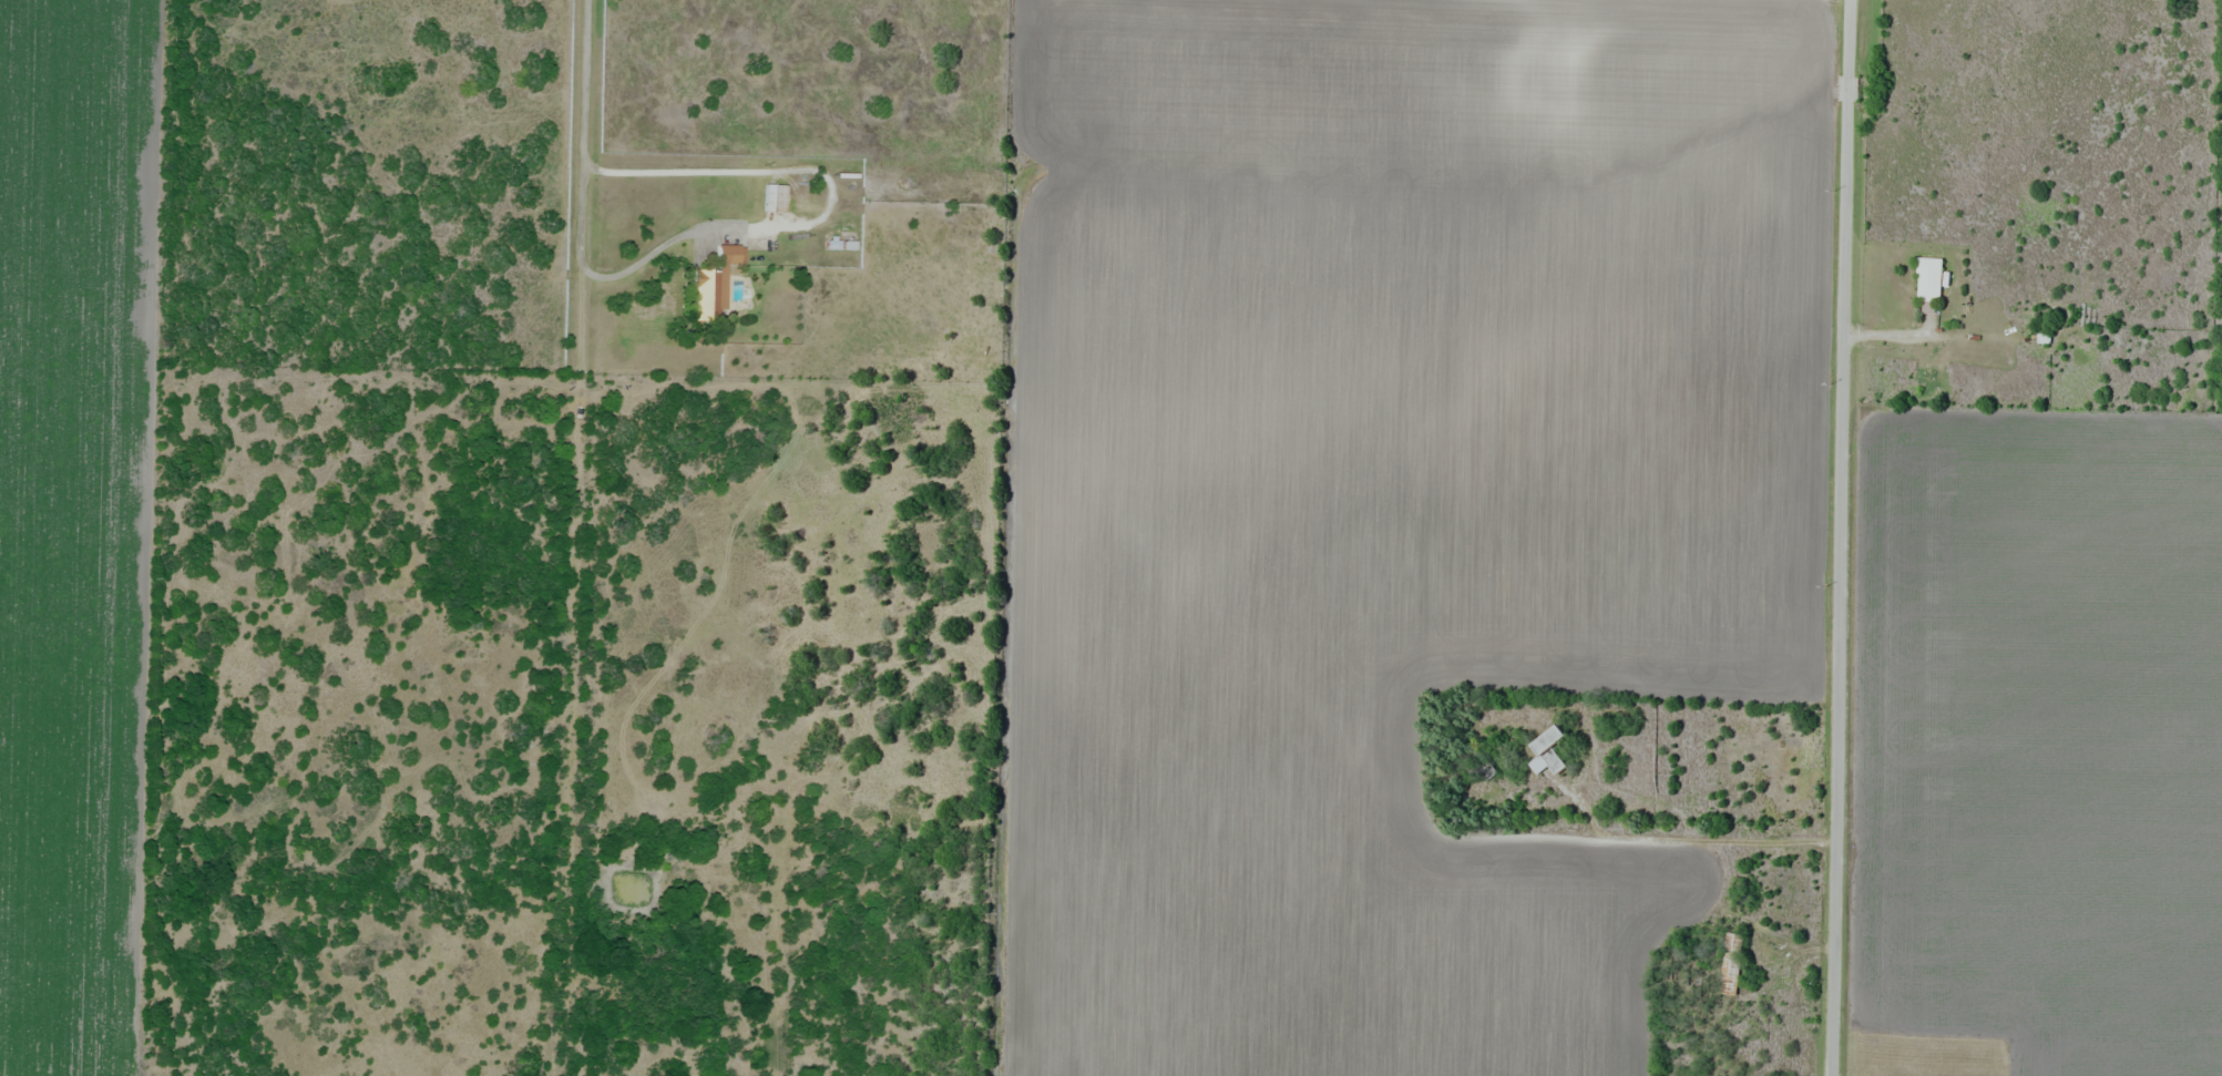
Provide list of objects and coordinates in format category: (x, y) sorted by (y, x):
road: (582, 126)
building: (772, 197)
building: (1929, 277)
building: (717, 284)
road: (1846, 537)
building: (1549, 752)
building: (1482, 764)
road: (1685, 839)
road: (1773, 935)
building: (1732, 964)

